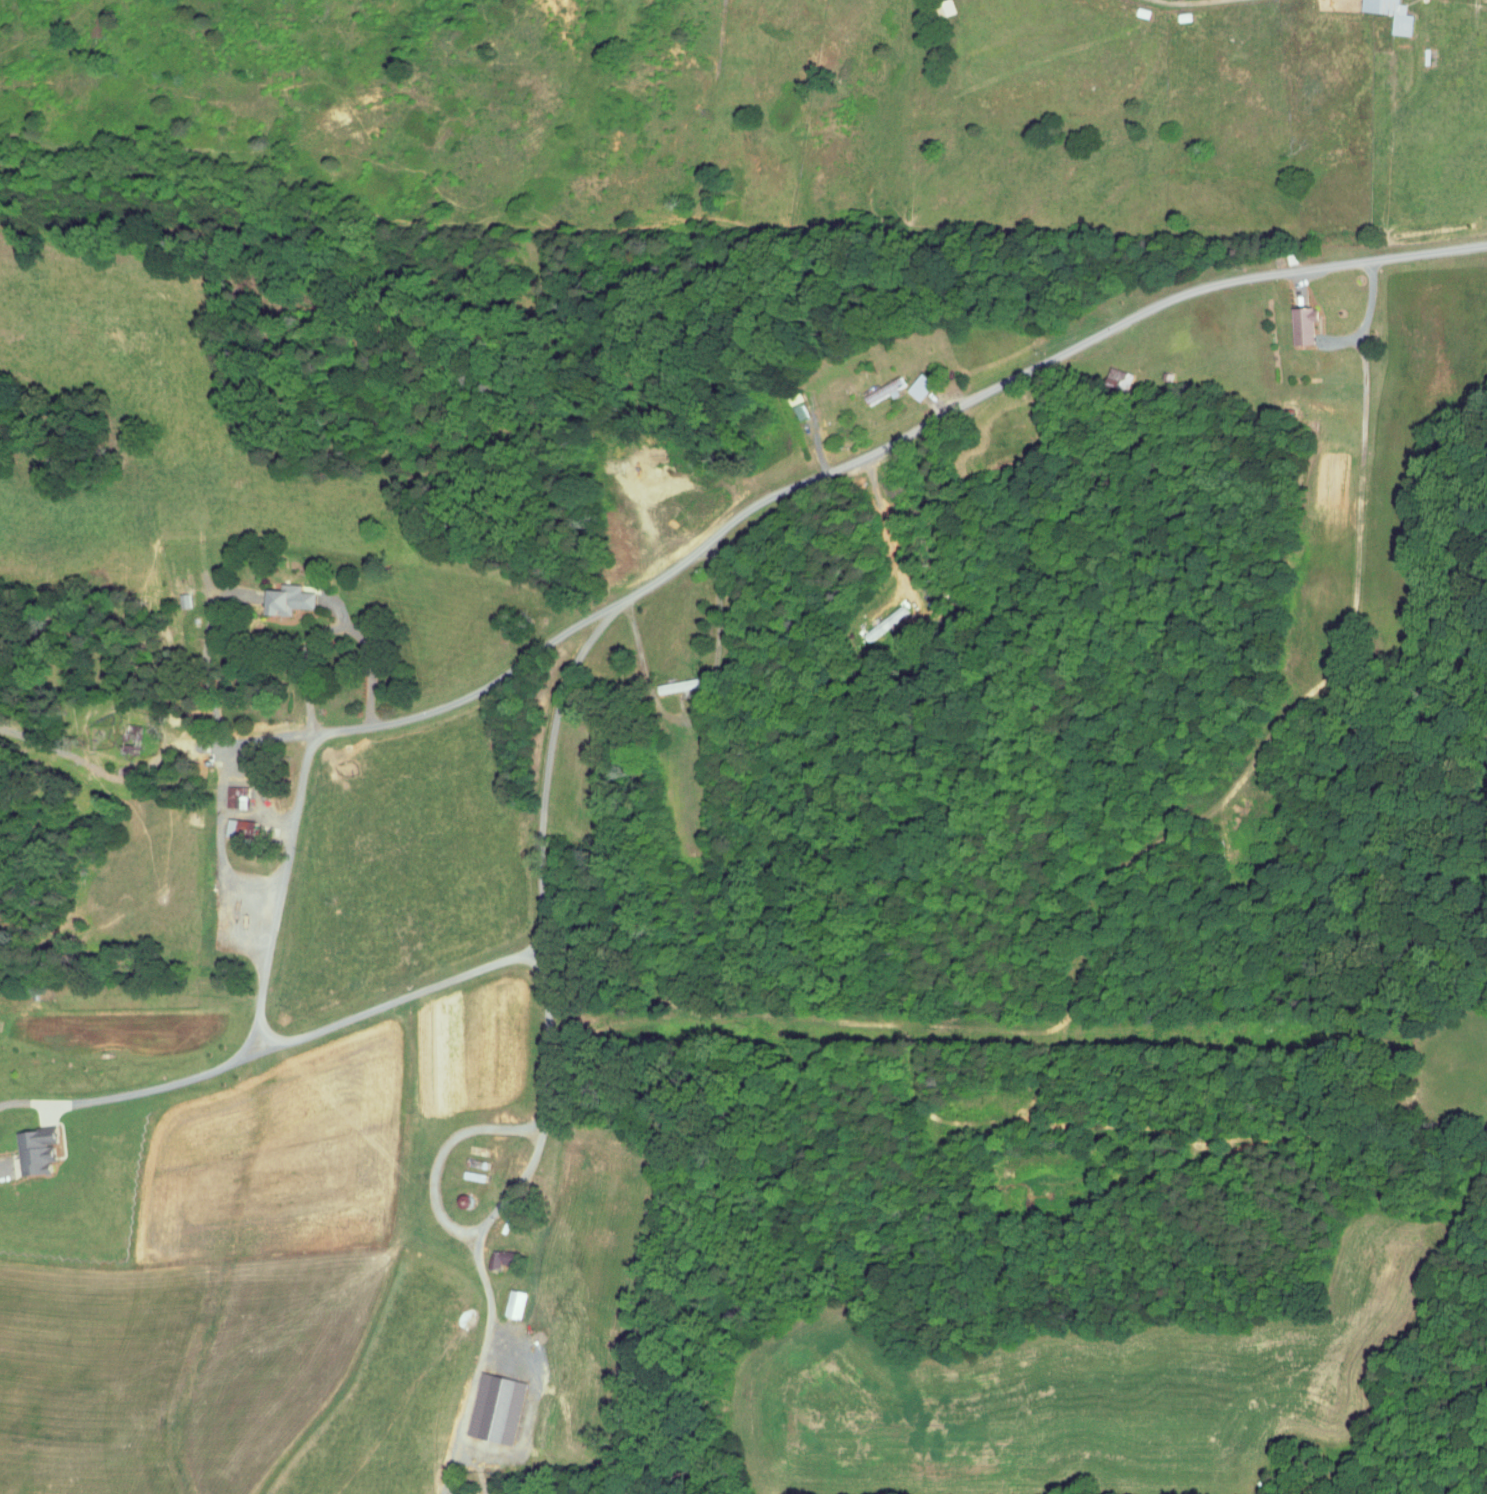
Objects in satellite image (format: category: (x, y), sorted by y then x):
road: (1188, 2)
building: (945, 7)
building: (1391, 14)
road: (1367, 314)
building: (1302, 324)
building: (1117, 378)
building: (919, 386)
building: (884, 390)
road: (912, 394)
road: (1008, 444)
road: (835, 468)
road: (887, 521)
building: (182, 590)
road: (729, 593)
building: (287, 599)
building: (884, 623)
road: (332, 629)
road: (639, 640)
road: (205, 647)
building: (679, 685)
road: (691, 717)
building: (131, 738)
road: (303, 773)
building: (236, 796)
building: (236, 827)
road: (271, 935)
road: (300, 1035)
road: (548, 1047)
building: (34, 1150)
building: (500, 1259)
building: (514, 1303)
building: (496, 1409)

